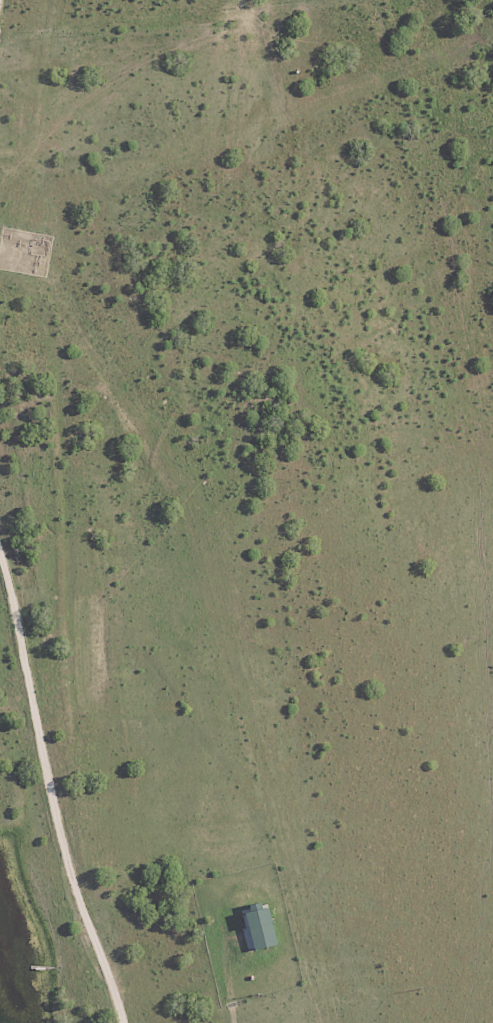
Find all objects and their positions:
building: (257, 930)

